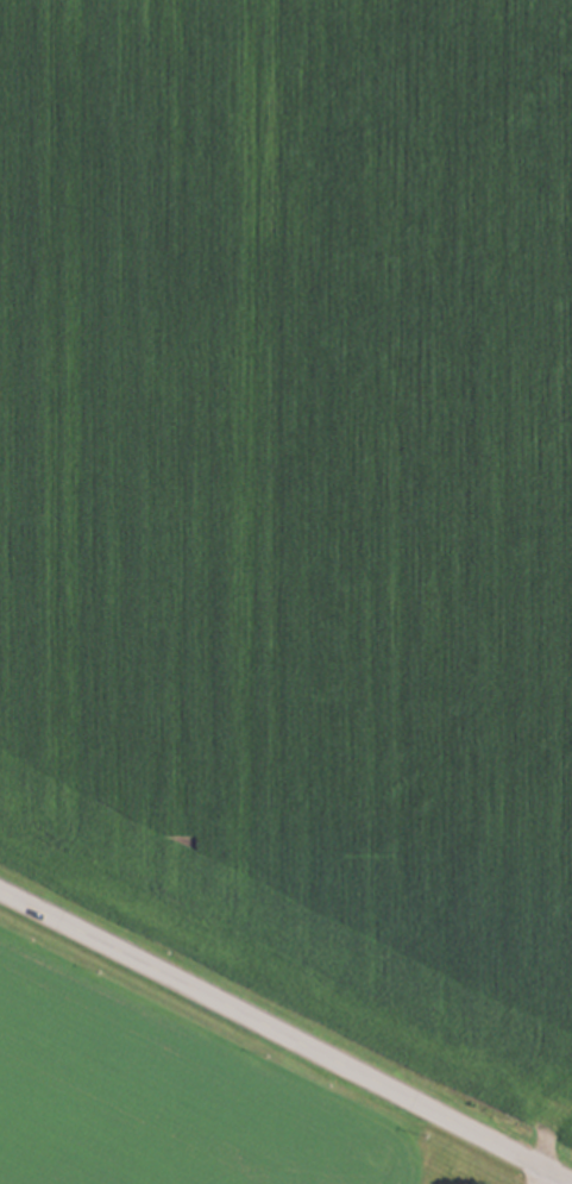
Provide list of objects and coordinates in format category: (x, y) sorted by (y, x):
road: (277, 1042)

